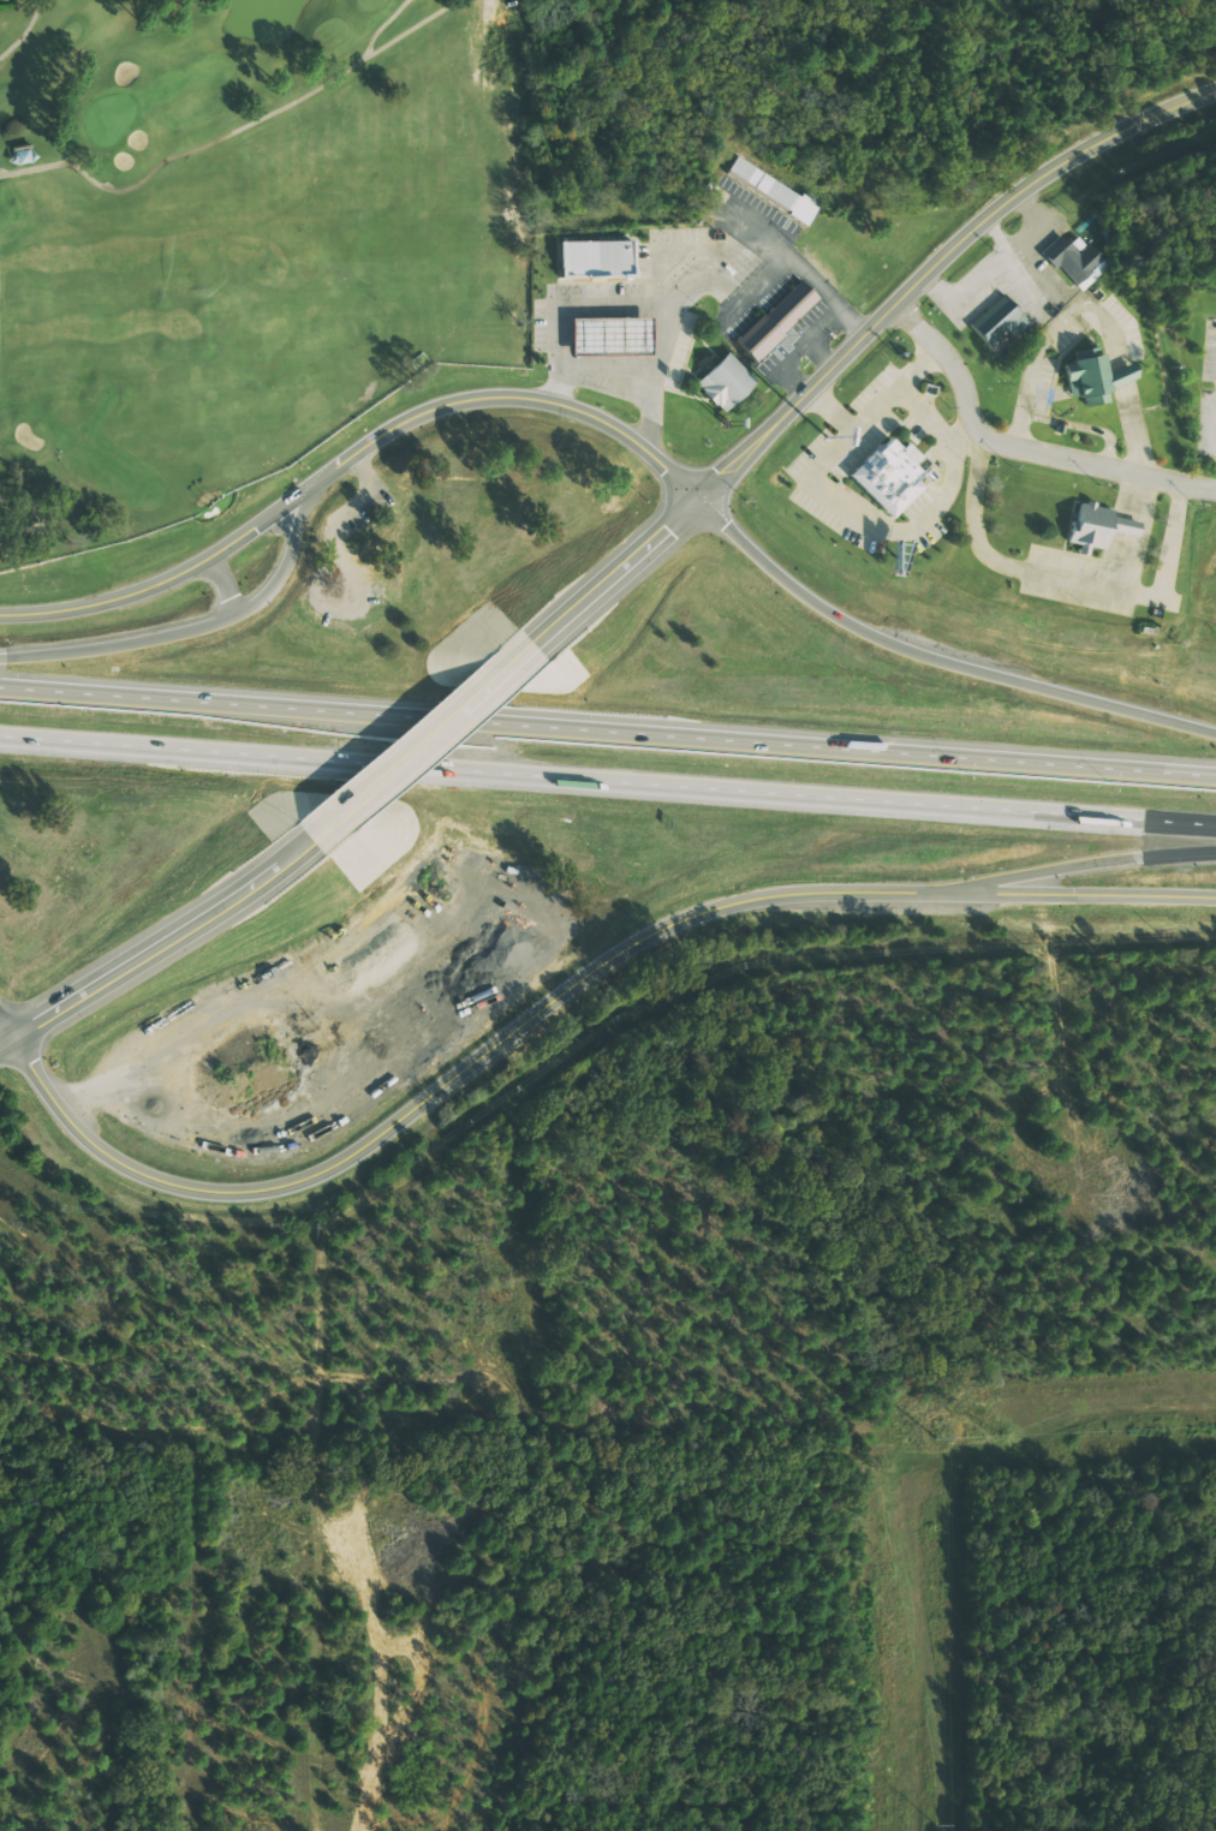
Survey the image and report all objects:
road: (489, 7)
park: (527, 7)
road: (383, 24)
road: (25, 32)
park: (165, 70)
park: (109, 118)
road: (234, 132)
building: (20, 155)
building: (775, 191)
road: (681, 246)
building: (596, 258)
building: (1067, 260)
road: (800, 261)
road: (709, 264)
road: (675, 300)
road: (566, 304)
park: (251, 306)
building: (776, 318)
building: (996, 322)
building: (612, 336)
gas station: (612, 336)
road: (800, 350)
road: (846, 351)
road: (821, 353)
building: (1116, 374)
building: (1085, 377)
building: (722, 381)
road: (511, 396)
road: (1019, 448)
building: (890, 475)
building: (1087, 524)
building: (1121, 524)
road: (171, 577)
road: (227, 584)
road: (199, 627)
road: (934, 657)
road: (608, 729)
road: (417, 741)
road: (607, 781)
road: (300, 845)
road: (1073, 865)
road: (1074, 894)
road: (147, 953)
road: (6, 1027)
road: (6, 1039)
road: (451, 1080)

